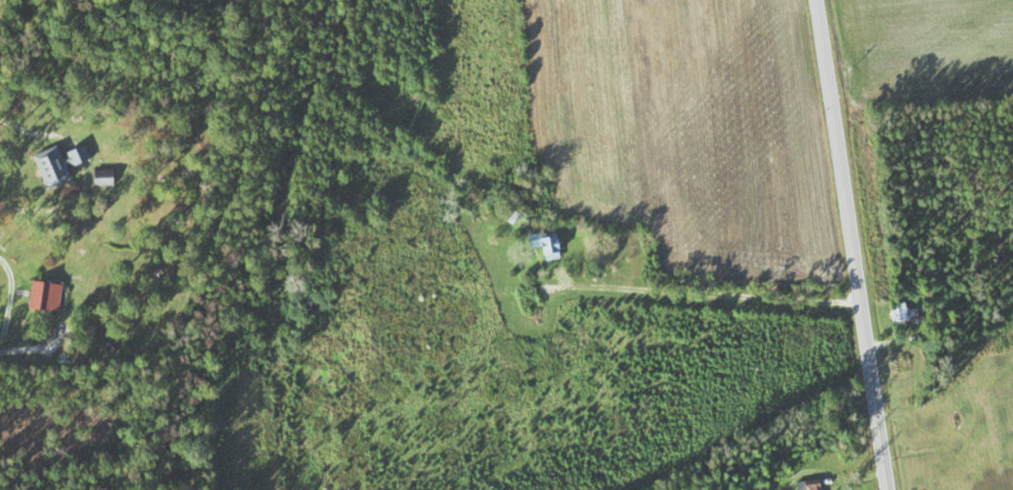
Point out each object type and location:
building: (66, 164)
building: (109, 178)
building: (541, 244)
road: (852, 244)
building: (52, 297)
building: (896, 312)
building: (815, 485)

